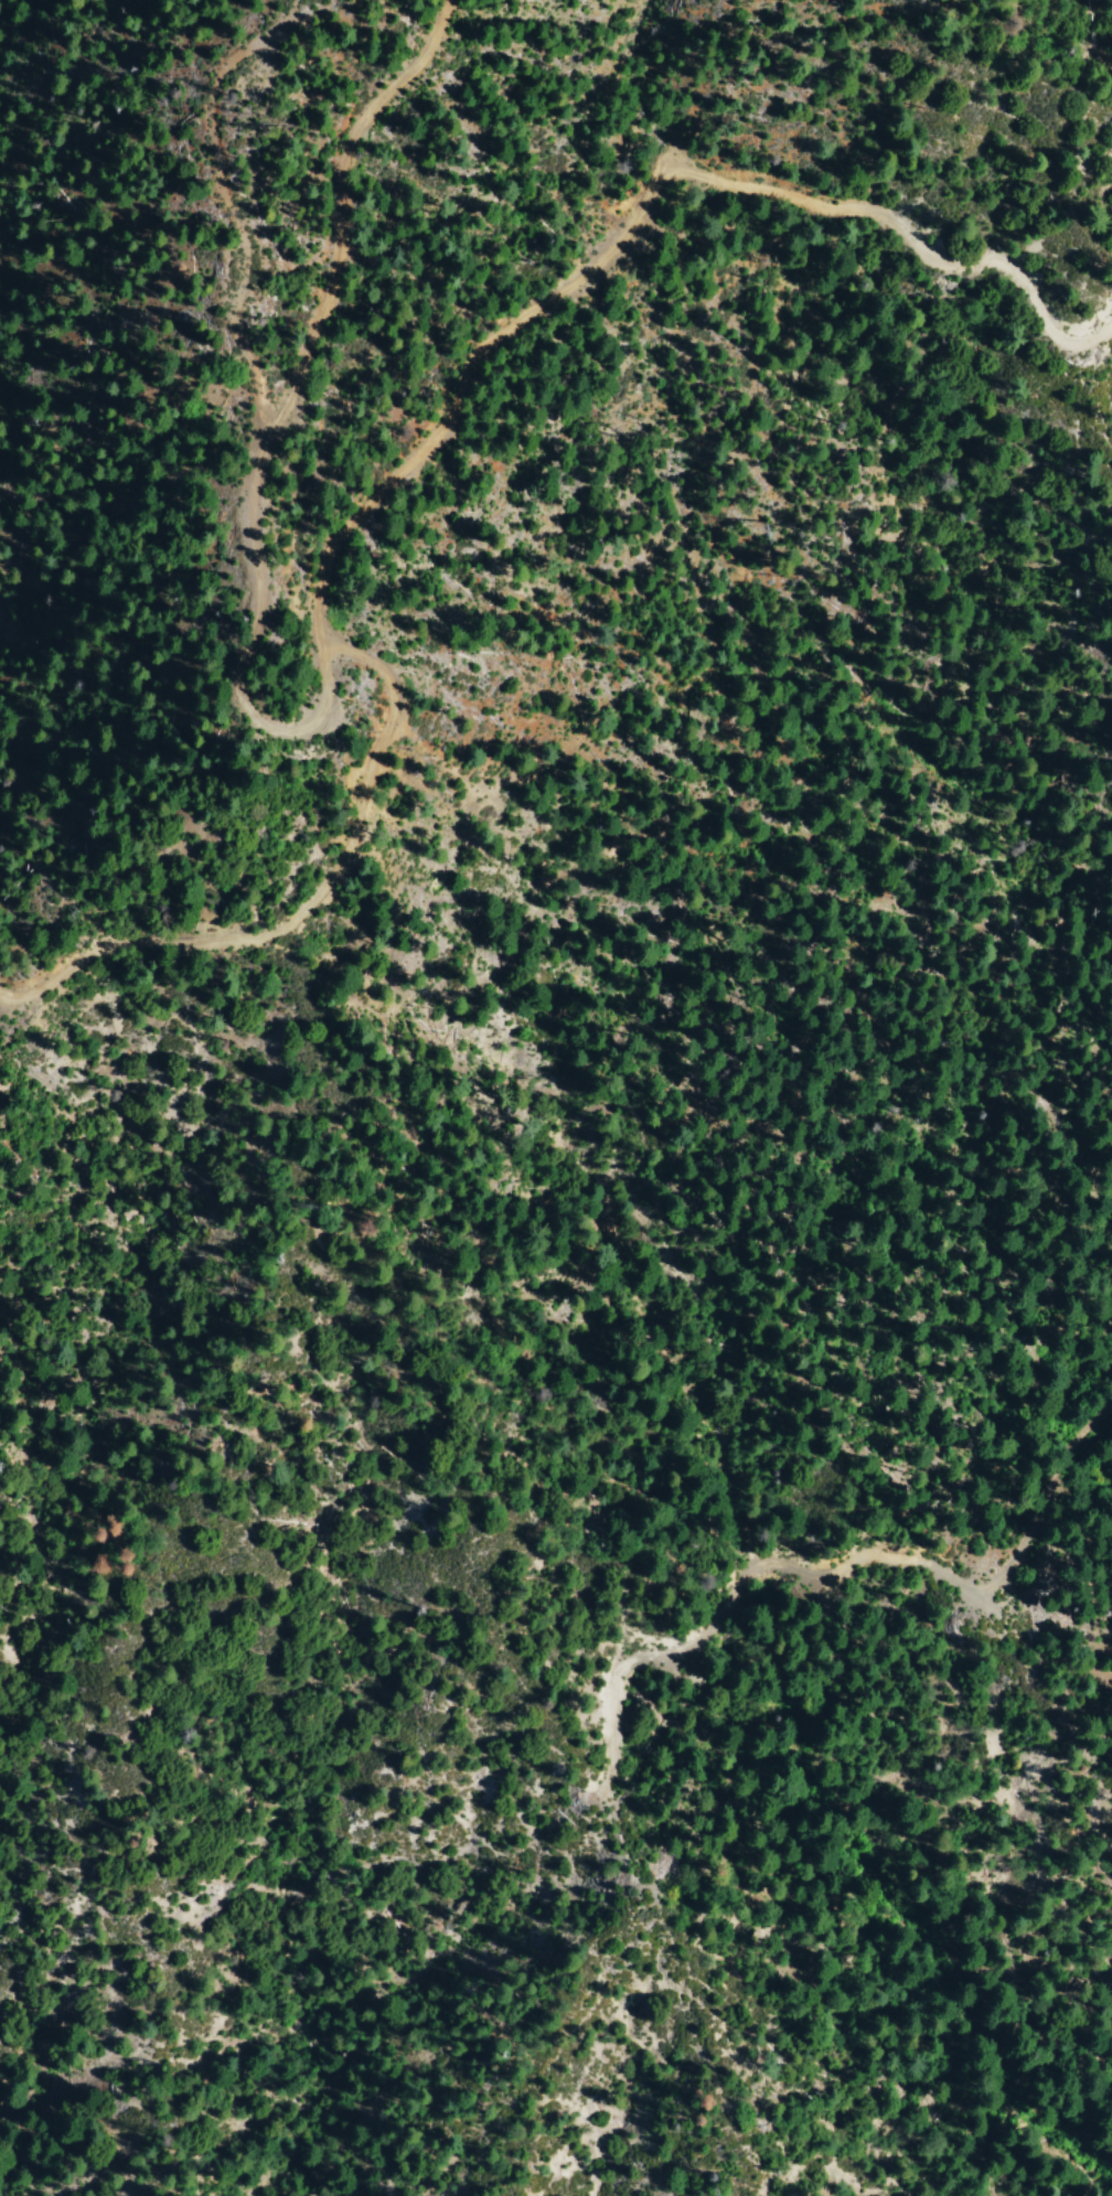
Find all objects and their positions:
road: (599, 218)
road: (183, 628)

